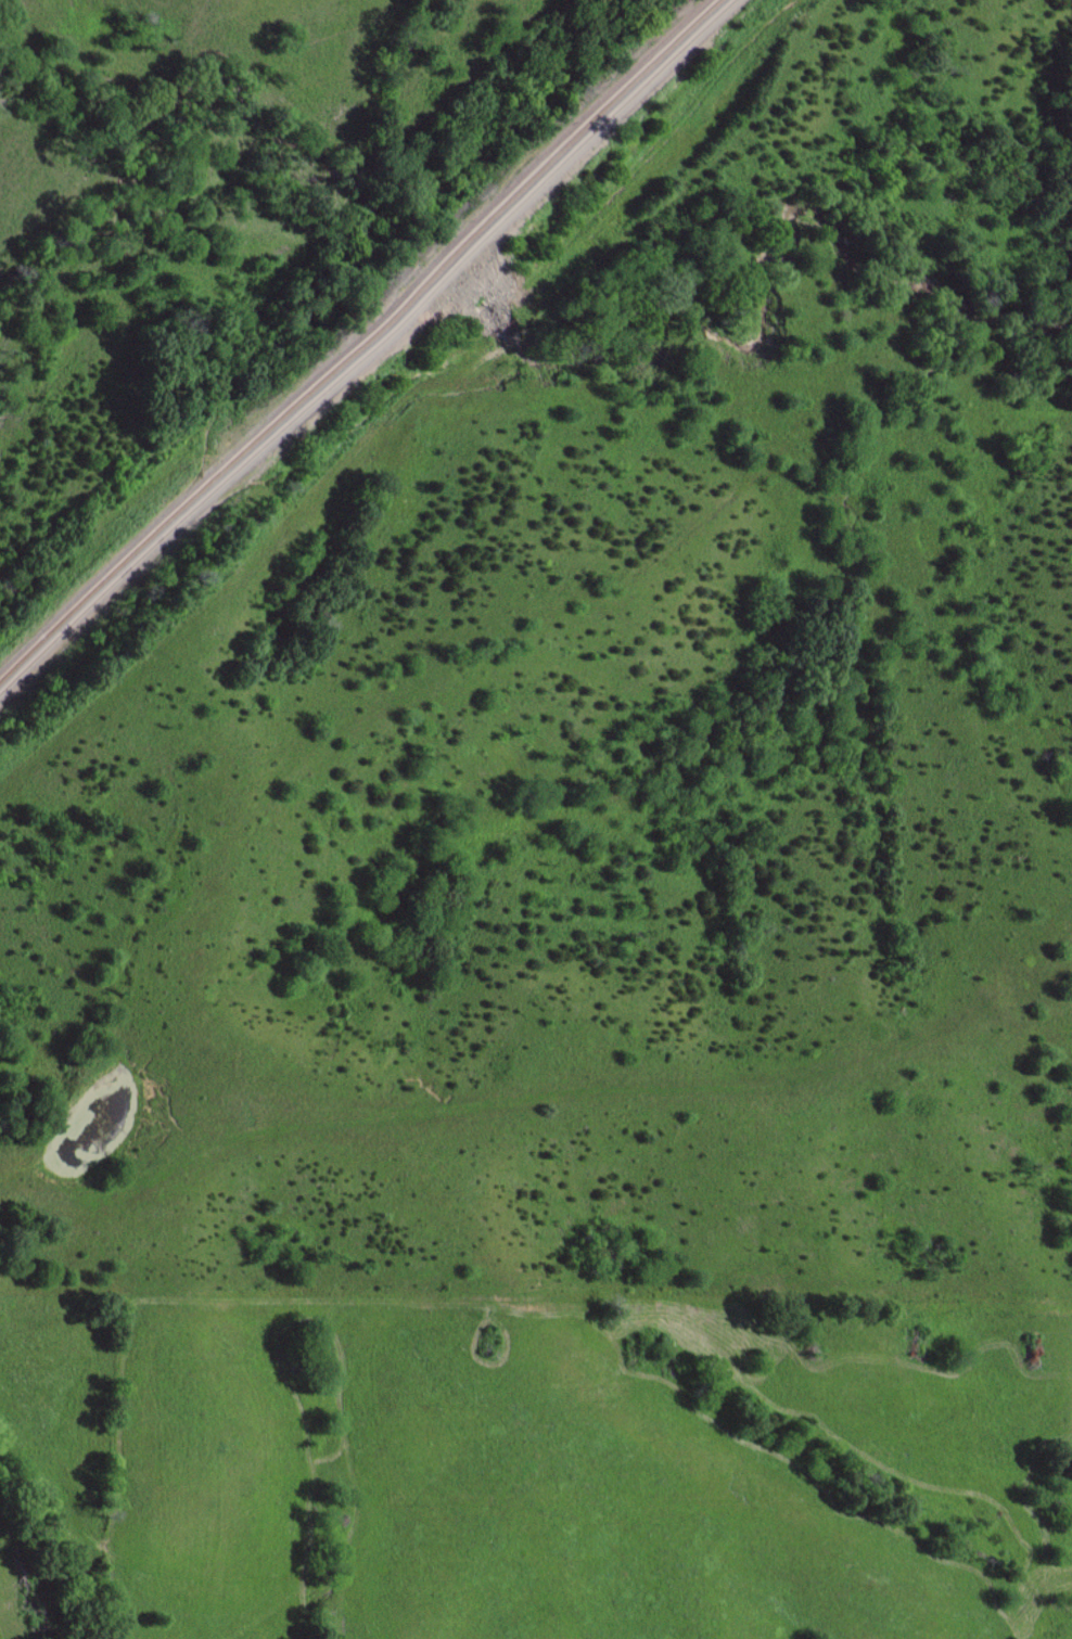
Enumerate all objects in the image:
railway: (357, 340)
railway: (365, 348)

